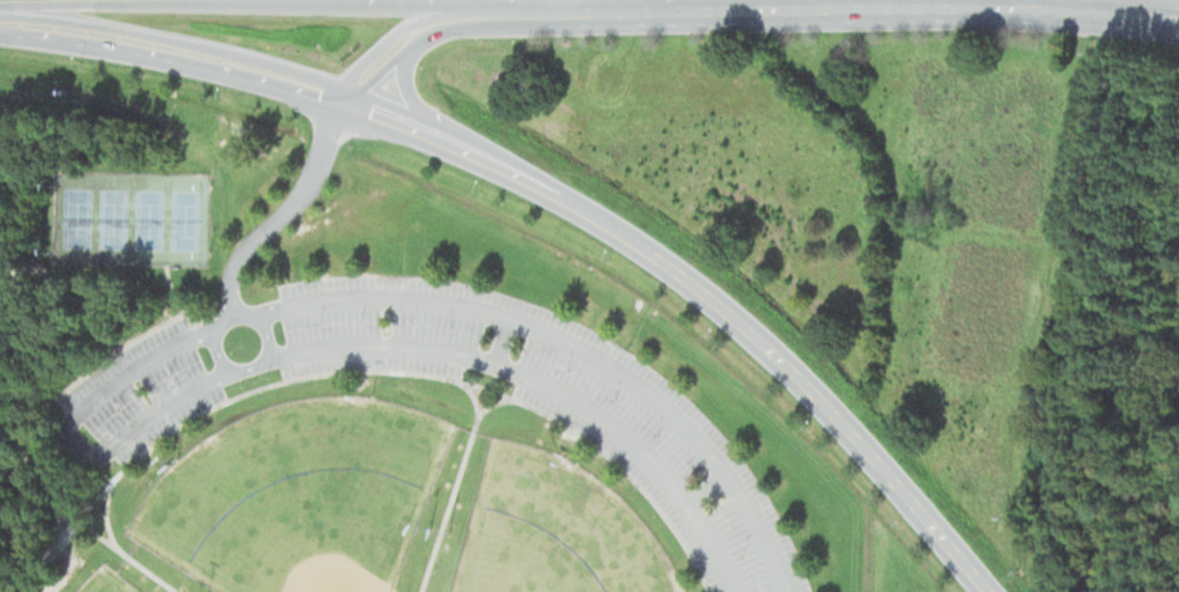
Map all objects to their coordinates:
road: (629, 5)
road: (746, 8)
road: (274, 13)
road: (557, 196)
road: (285, 212)
park: (77, 217)
park: (113, 217)
park: (148, 218)
park: (184, 219)
road: (502, 338)
road: (572, 344)
road: (229, 367)
road: (354, 369)
road: (546, 382)
parking lot: (146, 389)
parking lot: (556, 400)
road: (477, 416)
road: (70, 434)
road: (706, 488)
park: (298, 496)
road: (448, 504)
road: (106, 513)
park: (554, 530)
park: (106, 581)

